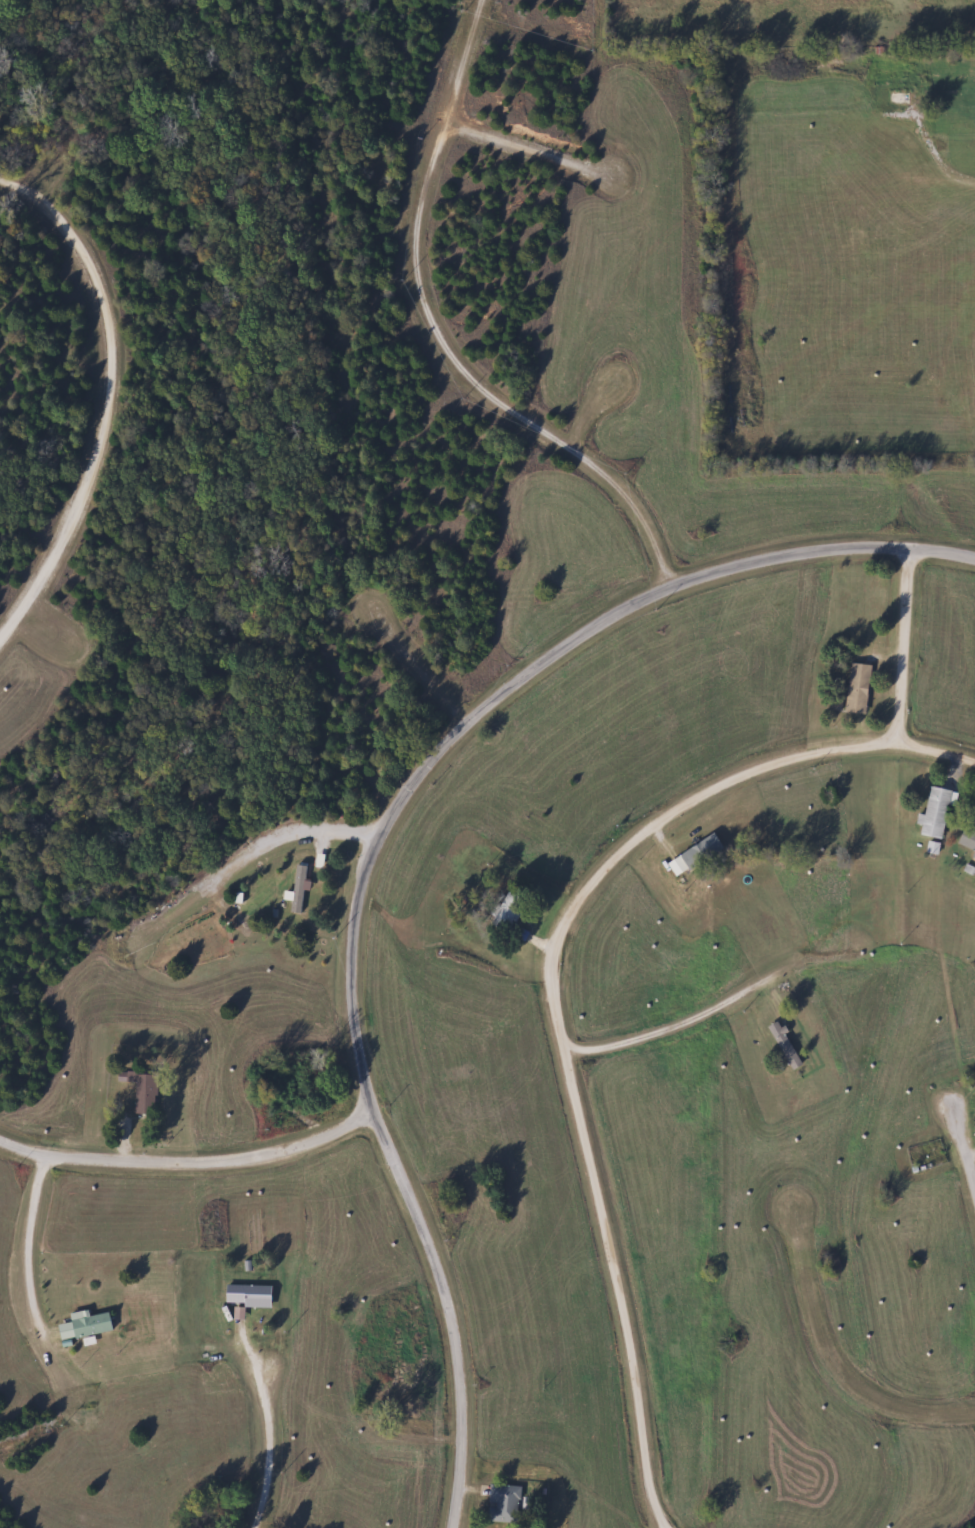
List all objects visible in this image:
road: (38, 163)
road: (548, 183)
road: (421, 260)
road: (108, 395)
road: (608, 415)
road: (626, 517)
road: (904, 646)
road: (426, 659)
building: (855, 688)
building: (933, 813)
building: (966, 839)
road: (376, 841)
building: (697, 855)
road: (250, 878)
building: (300, 889)
building: (512, 909)
road: (552, 991)
road: (710, 1008)
building: (785, 1045)
building: (148, 1093)
road: (962, 1149)
road: (190, 1160)
road: (31, 1238)
building: (250, 1295)
building: (88, 1325)
road: (830, 1354)
road: (266, 1427)
building: (505, 1502)

